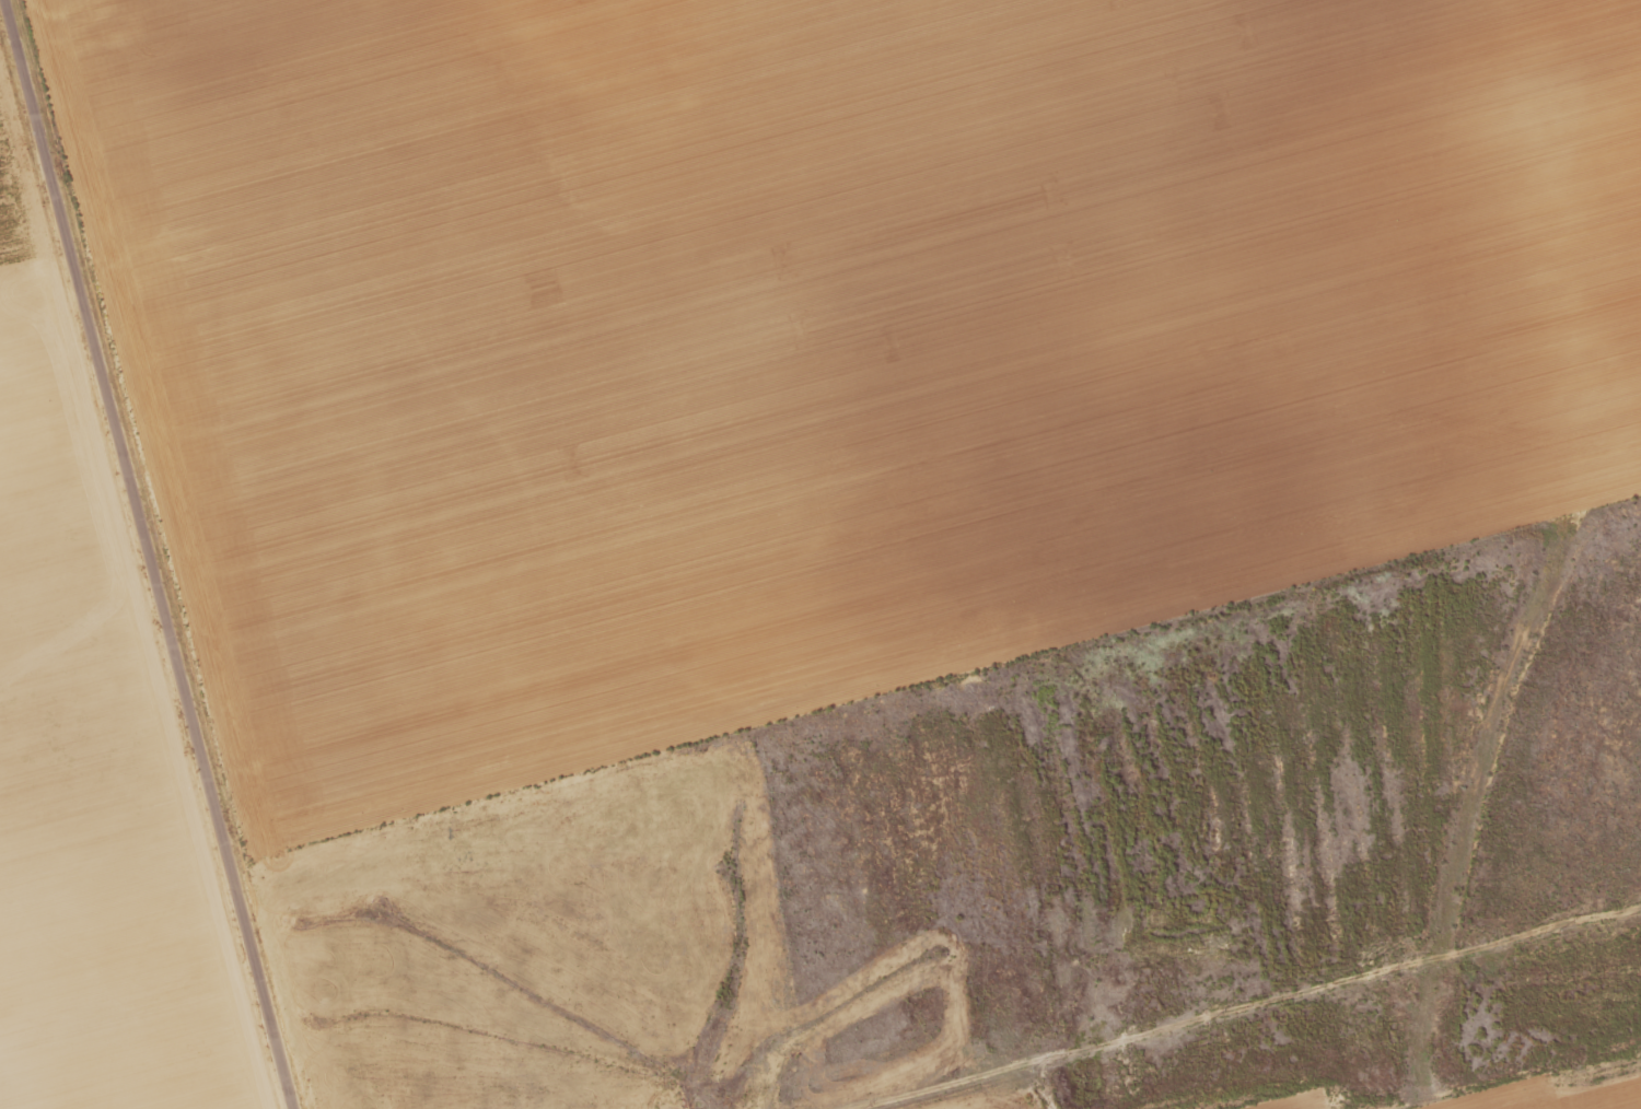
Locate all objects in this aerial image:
road: (137, 558)
building: (1207, 910)
road: (1275, 966)
building: (1387, 1029)

